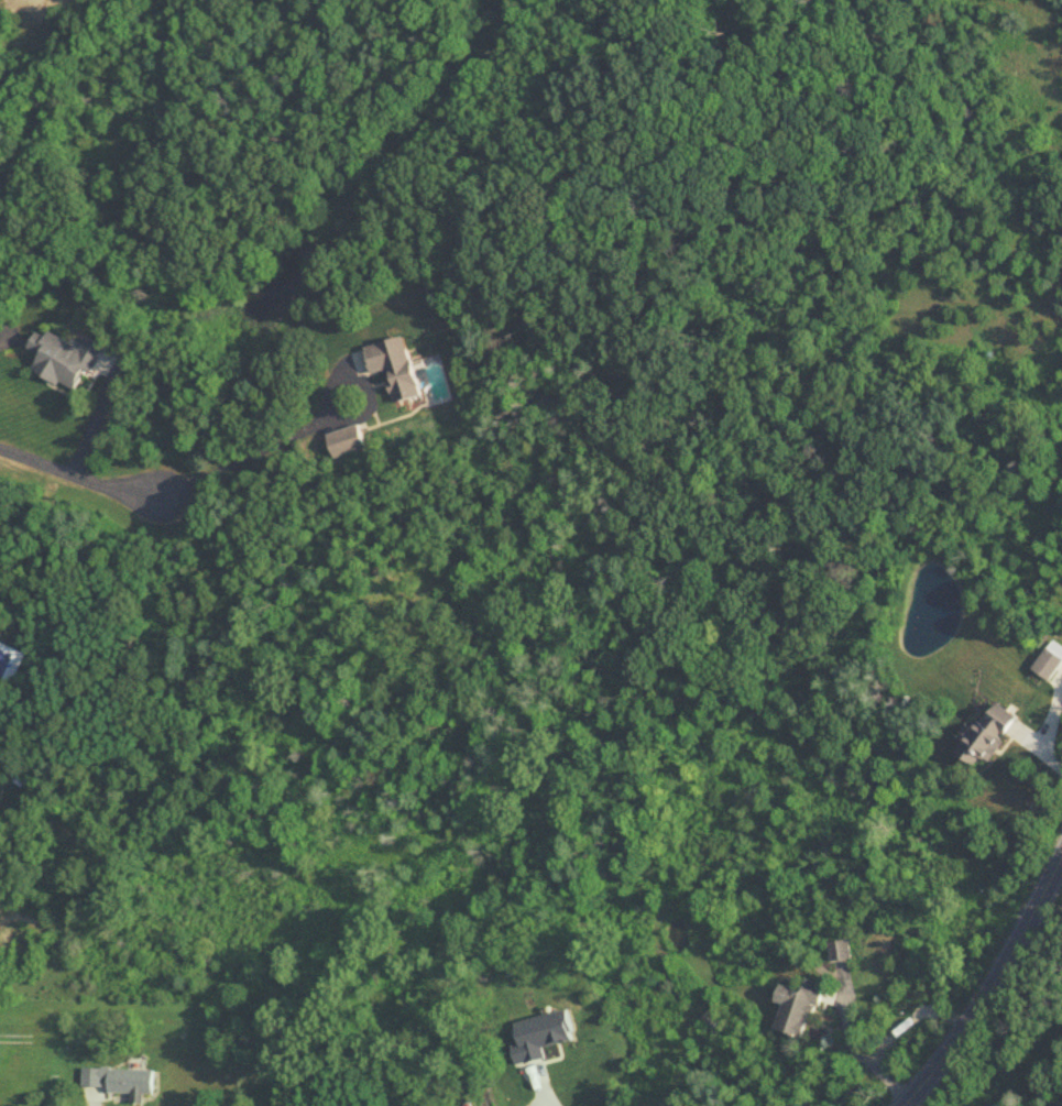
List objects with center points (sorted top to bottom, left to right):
building: (65, 360)
building: (395, 366)
building: (347, 441)
road: (260, 449)
road: (79, 480)
building: (1050, 661)
building: (989, 735)
road: (1052, 893)
building: (841, 950)
road: (992, 986)
building: (799, 1008)
road: (862, 1056)
building: (121, 1082)
road: (545, 1094)

